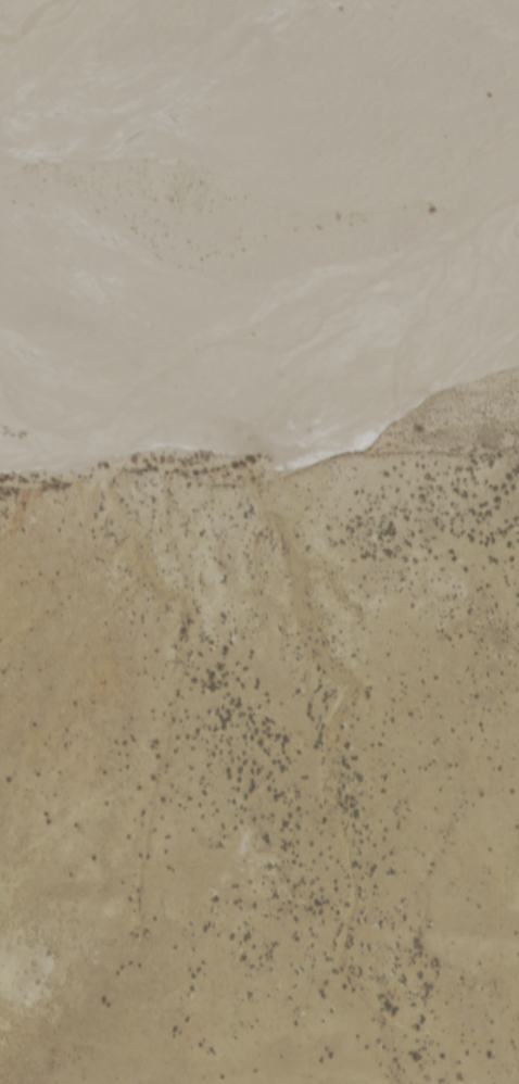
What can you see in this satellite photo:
river: (240, 178)
river: (259, 327)

